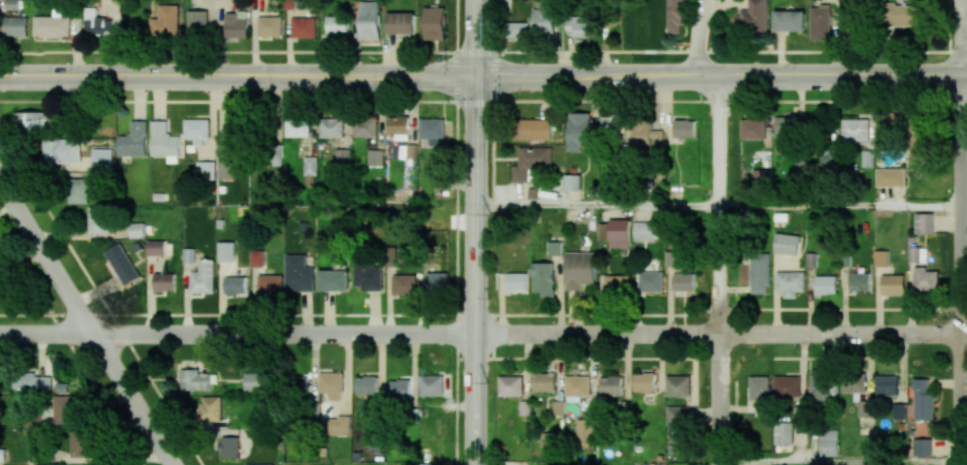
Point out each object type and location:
building: (858, 0)
building: (9, 5)
building: (902, 15)
building: (675, 16)
building: (753, 17)
building: (370, 20)
building: (789, 20)
building: (166, 21)
building: (198, 21)
building: (96, 23)
building: (401, 23)
building: (434, 23)
building: (544, 23)
building: (820, 23)
building: (236, 24)
building: (337, 25)
building: (581, 25)
building: (16, 26)
building: (52, 26)
building: (270, 26)
building: (303, 27)
building: (517, 30)
road: (698, 37)
road: (474, 38)
road: (963, 38)
road: (237, 76)
traffic signals: (474, 76)
road: (720, 76)
building: (32, 121)
building: (613, 125)
building: (785, 125)
building: (234, 127)
building: (297, 127)
building: (364, 127)
building: (398, 127)
building: (331, 128)
building: (431, 128)
building: (684, 128)
building: (533, 129)
building: (753, 129)
building: (855, 129)
building: (197, 131)
building: (579, 131)
building: (647, 136)
building: (133, 140)
building: (164, 142)
building: (63, 151)
building: (342, 156)
building: (375, 157)
building: (103, 159)
building: (530, 161)
building: (438, 162)
building: (826, 163)
building: (310, 165)
building: (206, 170)
building: (890, 177)
building: (761, 178)
building: (572, 182)
building: (79, 191)
road: (595, 205)
road: (840, 205)
building: (100, 220)
building: (924, 223)
building: (643, 231)
building: (615, 232)
building: (786, 243)
building: (156, 247)
building: (554, 248)
building: (226, 251)
building: (917, 254)
building: (189, 255)
building: (257, 258)
building: (672, 258)
building: (881, 258)
building: (122, 263)
road: (473, 270)
building: (579, 270)
road: (718, 270)
road: (963, 270)
building: (298, 273)
building: (760, 273)
building: (203, 277)
building: (368, 277)
building: (543, 279)
building: (333, 280)
building: (926, 280)
building: (164, 281)
building: (437, 281)
building: (516, 281)
building: (650, 281)
building: (860, 281)
building: (683, 282)
building: (615, 283)
building: (790, 283)
building: (269, 284)
building: (405, 284)
building: (893, 284)
building: (235, 285)
building: (826, 285)
road: (86, 322)
road: (236, 334)
road: (719, 335)
building: (195, 380)
building: (252, 381)
building: (644, 381)
building: (31, 382)
building: (543, 382)
building: (853, 382)
building: (300, 383)
building: (331, 384)
building: (366, 385)
building: (431, 385)
building: (510, 385)
building: (610, 385)
building: (820, 385)
building: (887, 385)
building: (678, 386)
building: (787, 386)
building: (577, 387)
building: (399, 388)
building: (759, 388)
building: (923, 400)
building: (210, 408)
building: (864, 408)
building: (65, 409)
building: (899, 411)
building: (676, 420)
building: (337, 426)
building: (584, 433)
building: (783, 433)
building: (828, 442)
building: (82, 443)
building: (922, 446)
building: (229, 447)
road: (841, 462)
building: (259, 464)
building: (429, 464)

